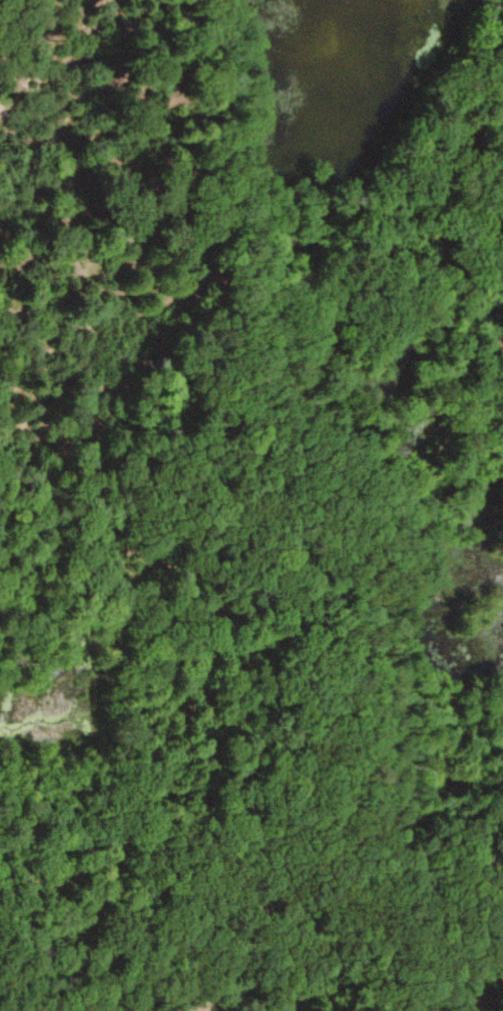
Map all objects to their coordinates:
park: (251, 505)
road: (206, 747)
road: (189, 877)

